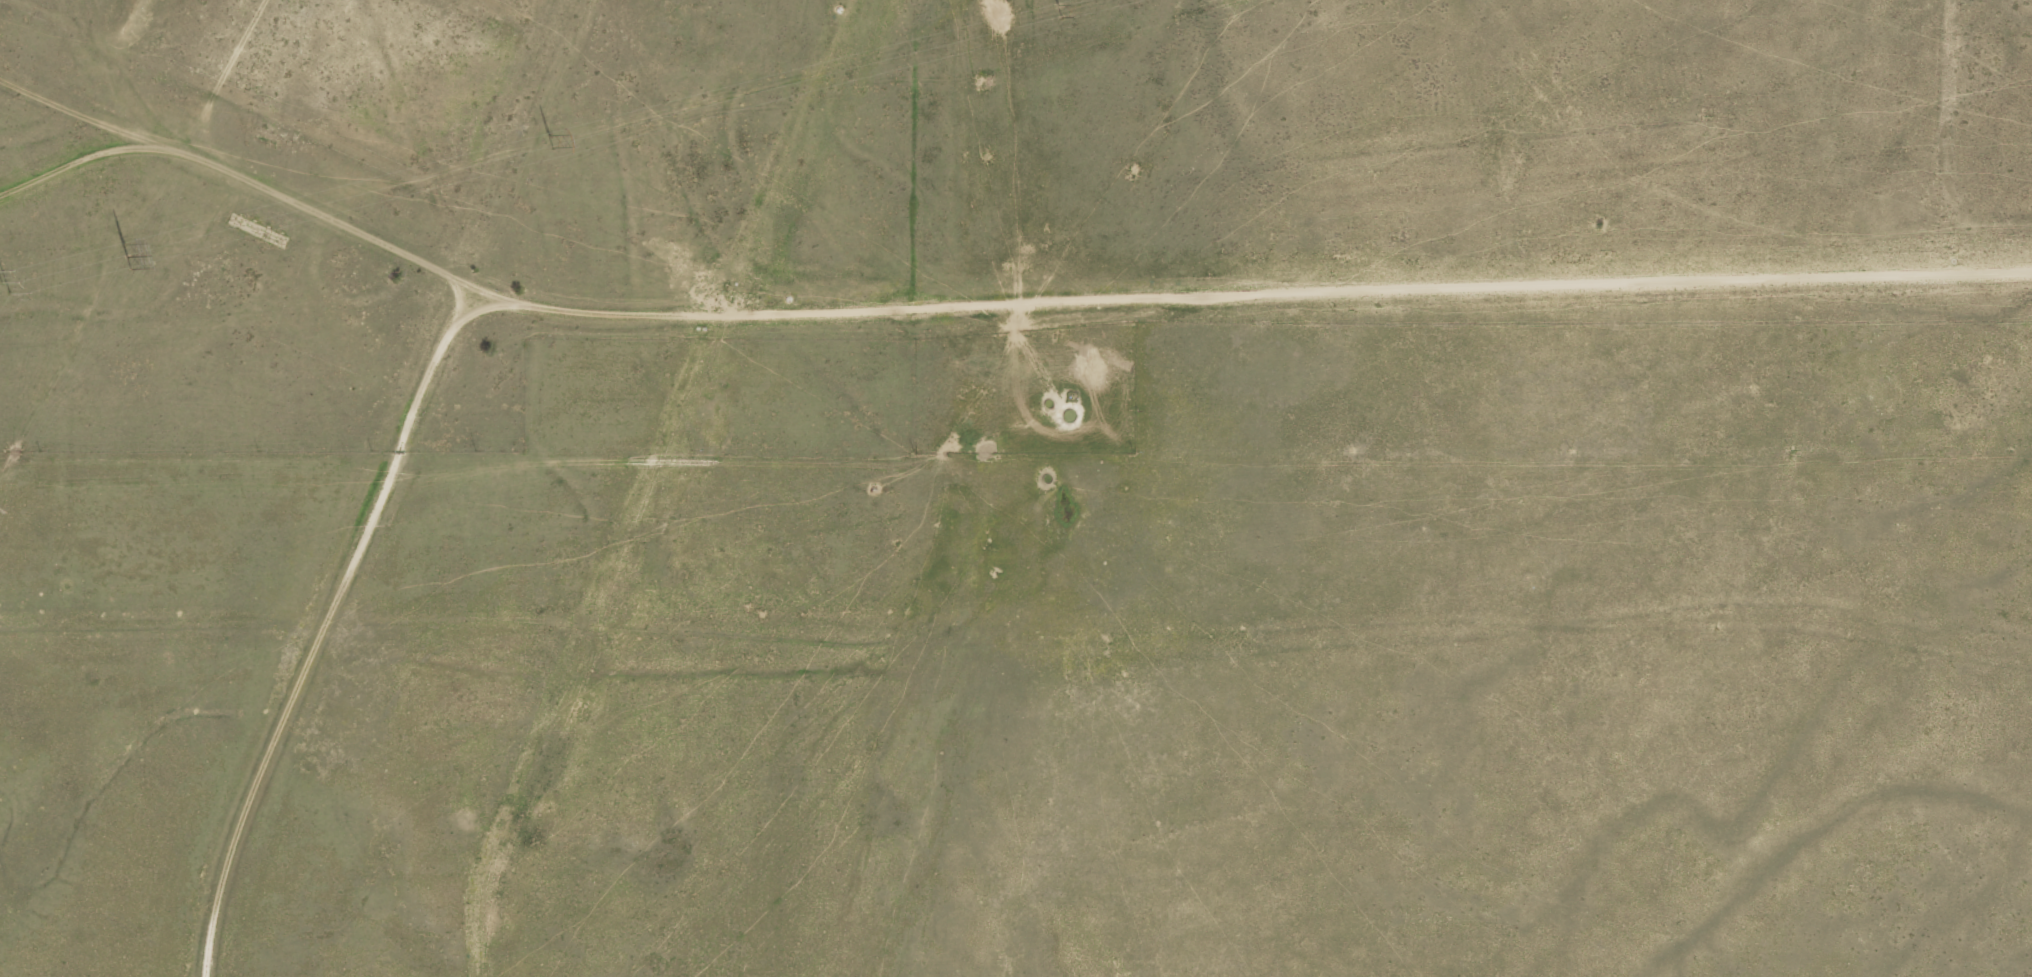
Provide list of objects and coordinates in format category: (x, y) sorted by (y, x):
power tower: (1053, 12)
road: (42, 118)
road: (484, 130)
power tower: (546, 143)
road: (180, 213)
power tower: (123, 259)
road: (1098, 316)
road: (652, 636)
road: (326, 795)

